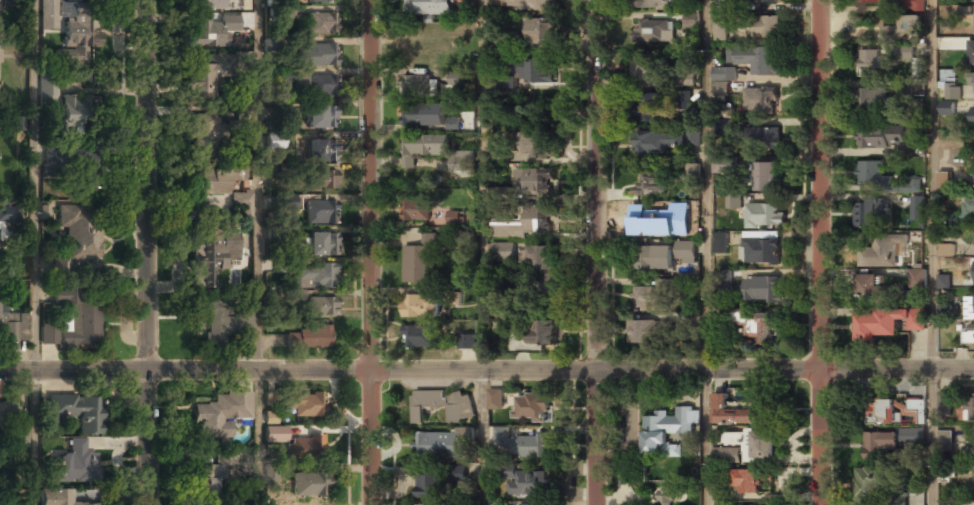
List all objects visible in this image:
building: (763, 0)
building: (321, 1)
building: (875, 1)
building: (973, 1)
building: (7, 3)
building: (208, 4)
building: (520, 4)
building: (654, 4)
building: (912, 6)
building: (429, 7)
building: (280, 13)
building: (48, 14)
building: (691, 19)
building: (242, 21)
building: (321, 24)
building: (911, 24)
building: (766, 26)
building: (653, 30)
building: (540, 31)
building: (718, 31)
building: (209, 33)
building: (888, 34)
building: (79, 38)
building: (270, 45)
building: (902, 52)
building: (316, 54)
building: (973, 54)
building: (756, 59)
building: (869, 61)
building: (643, 68)
building: (532, 69)
building: (204, 73)
building: (723, 75)
building: (456, 77)
building: (684, 78)
building: (509, 81)
building: (950, 82)
building: (971, 83)
building: (417, 84)
building: (315, 85)
building: (46, 91)
building: (683, 99)
building: (871, 99)
building: (760, 101)
building: (948, 101)
building: (647, 108)
building: (73, 109)
building: (284, 113)
building: (421, 114)
building: (320, 118)
building: (973, 118)
building: (452, 122)
building: (18, 123)
building: (204, 132)
building: (693, 135)
building: (762, 137)
building: (881, 137)
building: (275, 141)
building: (656, 141)
building: (534, 143)
building: (422, 147)
building: (320, 151)
building: (500, 156)
building: (456, 163)
building: (78, 164)
building: (724, 164)
building: (692, 174)
building: (973, 174)
building: (874, 176)
building: (768, 177)
building: (535, 179)
building: (322, 180)
building: (943, 180)
building: (653, 182)
road: (34, 185)
building: (212, 190)
building: (734, 201)
building: (243, 203)
building: (285, 203)
building: (972, 205)
building: (918, 207)
building: (414, 209)
building: (320, 212)
building: (869, 213)
building: (8, 214)
building: (764, 215)
building: (454, 218)
building: (644, 218)
building: (530, 222)
building: (678, 230)
building: (719, 242)
building: (76, 245)
building: (321, 245)
building: (883, 249)
building: (945, 249)
building: (502, 251)
building: (760, 251)
road: (148, 252)
road: (260, 252)
road: (372, 252)
road: (483, 252)
road: (597, 252)
road: (707, 252)
road: (820, 252)
road: (929, 252)
building: (663, 255)
building: (210, 257)
building: (418, 263)
building: (544, 267)
building: (317, 277)
building: (918, 278)
building: (723, 279)
building: (944, 281)
building: (873, 285)
building: (762, 289)
building: (453, 297)
building: (647, 298)
building: (973, 303)
building: (421, 306)
building: (322, 308)
building: (944, 311)
building: (79, 317)
building: (244, 320)
building: (212, 321)
building: (888, 322)
building: (754, 324)
building: (13, 327)
building: (545, 331)
building: (644, 331)
building: (48, 333)
building: (969, 335)
building: (419, 337)
building: (308, 340)
building: (468, 343)
road: (487, 369)
building: (495, 398)
building: (944, 403)
building: (304, 405)
building: (443, 405)
building: (532, 408)
building: (971, 408)
building: (735, 411)
building: (6, 412)
building: (77, 412)
building: (220, 415)
building: (270, 418)
building: (891, 427)
building: (668, 430)
building: (20, 432)
building: (275, 434)
building: (945, 436)
road: (33, 437)
building: (754, 443)
building: (436, 445)
building: (530, 446)
building: (305, 448)
building: (968, 451)
building: (728, 454)
building: (74, 464)
building: (456, 472)
building: (271, 474)
building: (871, 480)
building: (751, 481)
building: (524, 482)
building: (311, 484)
building: (207, 485)
building: (431, 487)
building: (6, 492)
building: (665, 497)
building: (56, 498)
building: (437, 504)
building: (497, 504)

